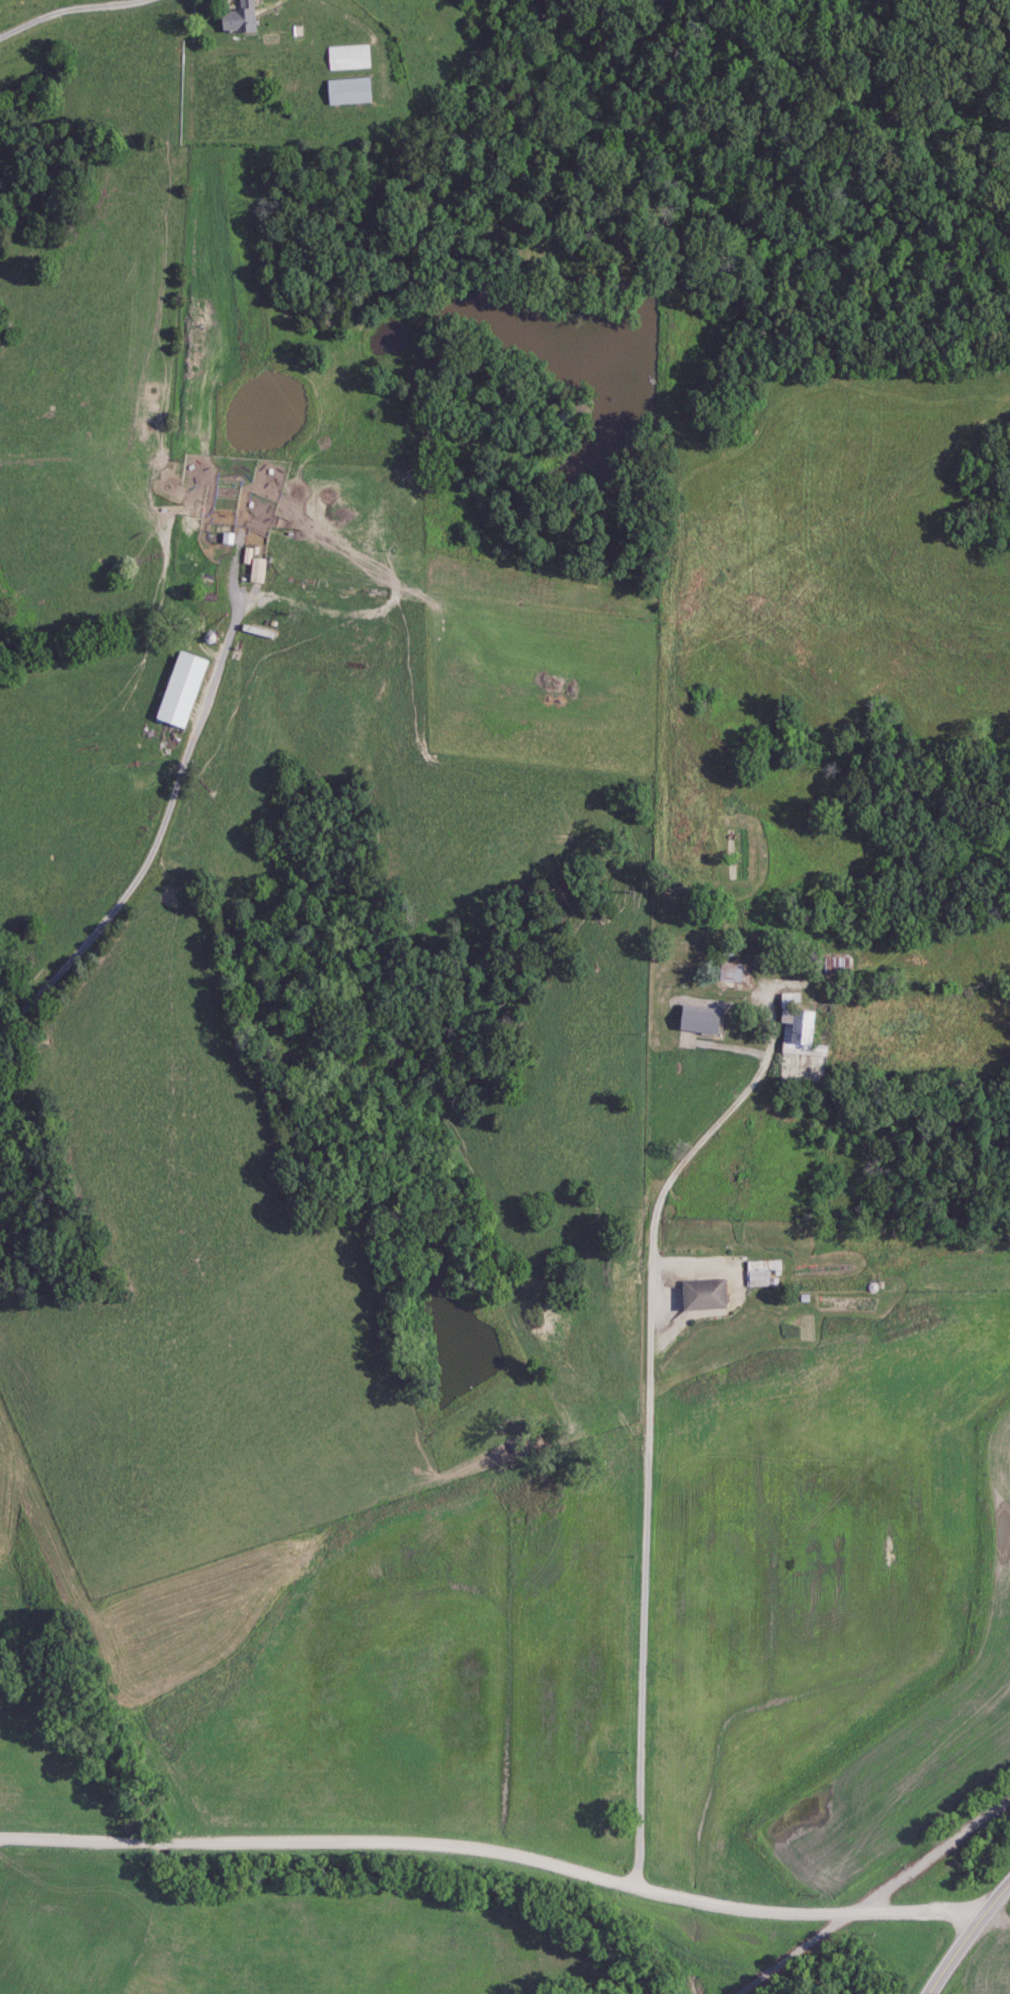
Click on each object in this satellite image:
road: (74, 13)
building: (237, 20)
building: (346, 58)
building: (345, 92)
building: (447, 572)
building: (177, 691)
building: (697, 837)
road: (118, 897)
building: (830, 966)
building: (726, 972)
building: (696, 1019)
building: (795, 1028)
building: (760, 1273)
building: (700, 1294)
road: (652, 1443)
road: (324, 1843)
road: (875, 1897)
road: (812, 1913)
road: (968, 1938)

